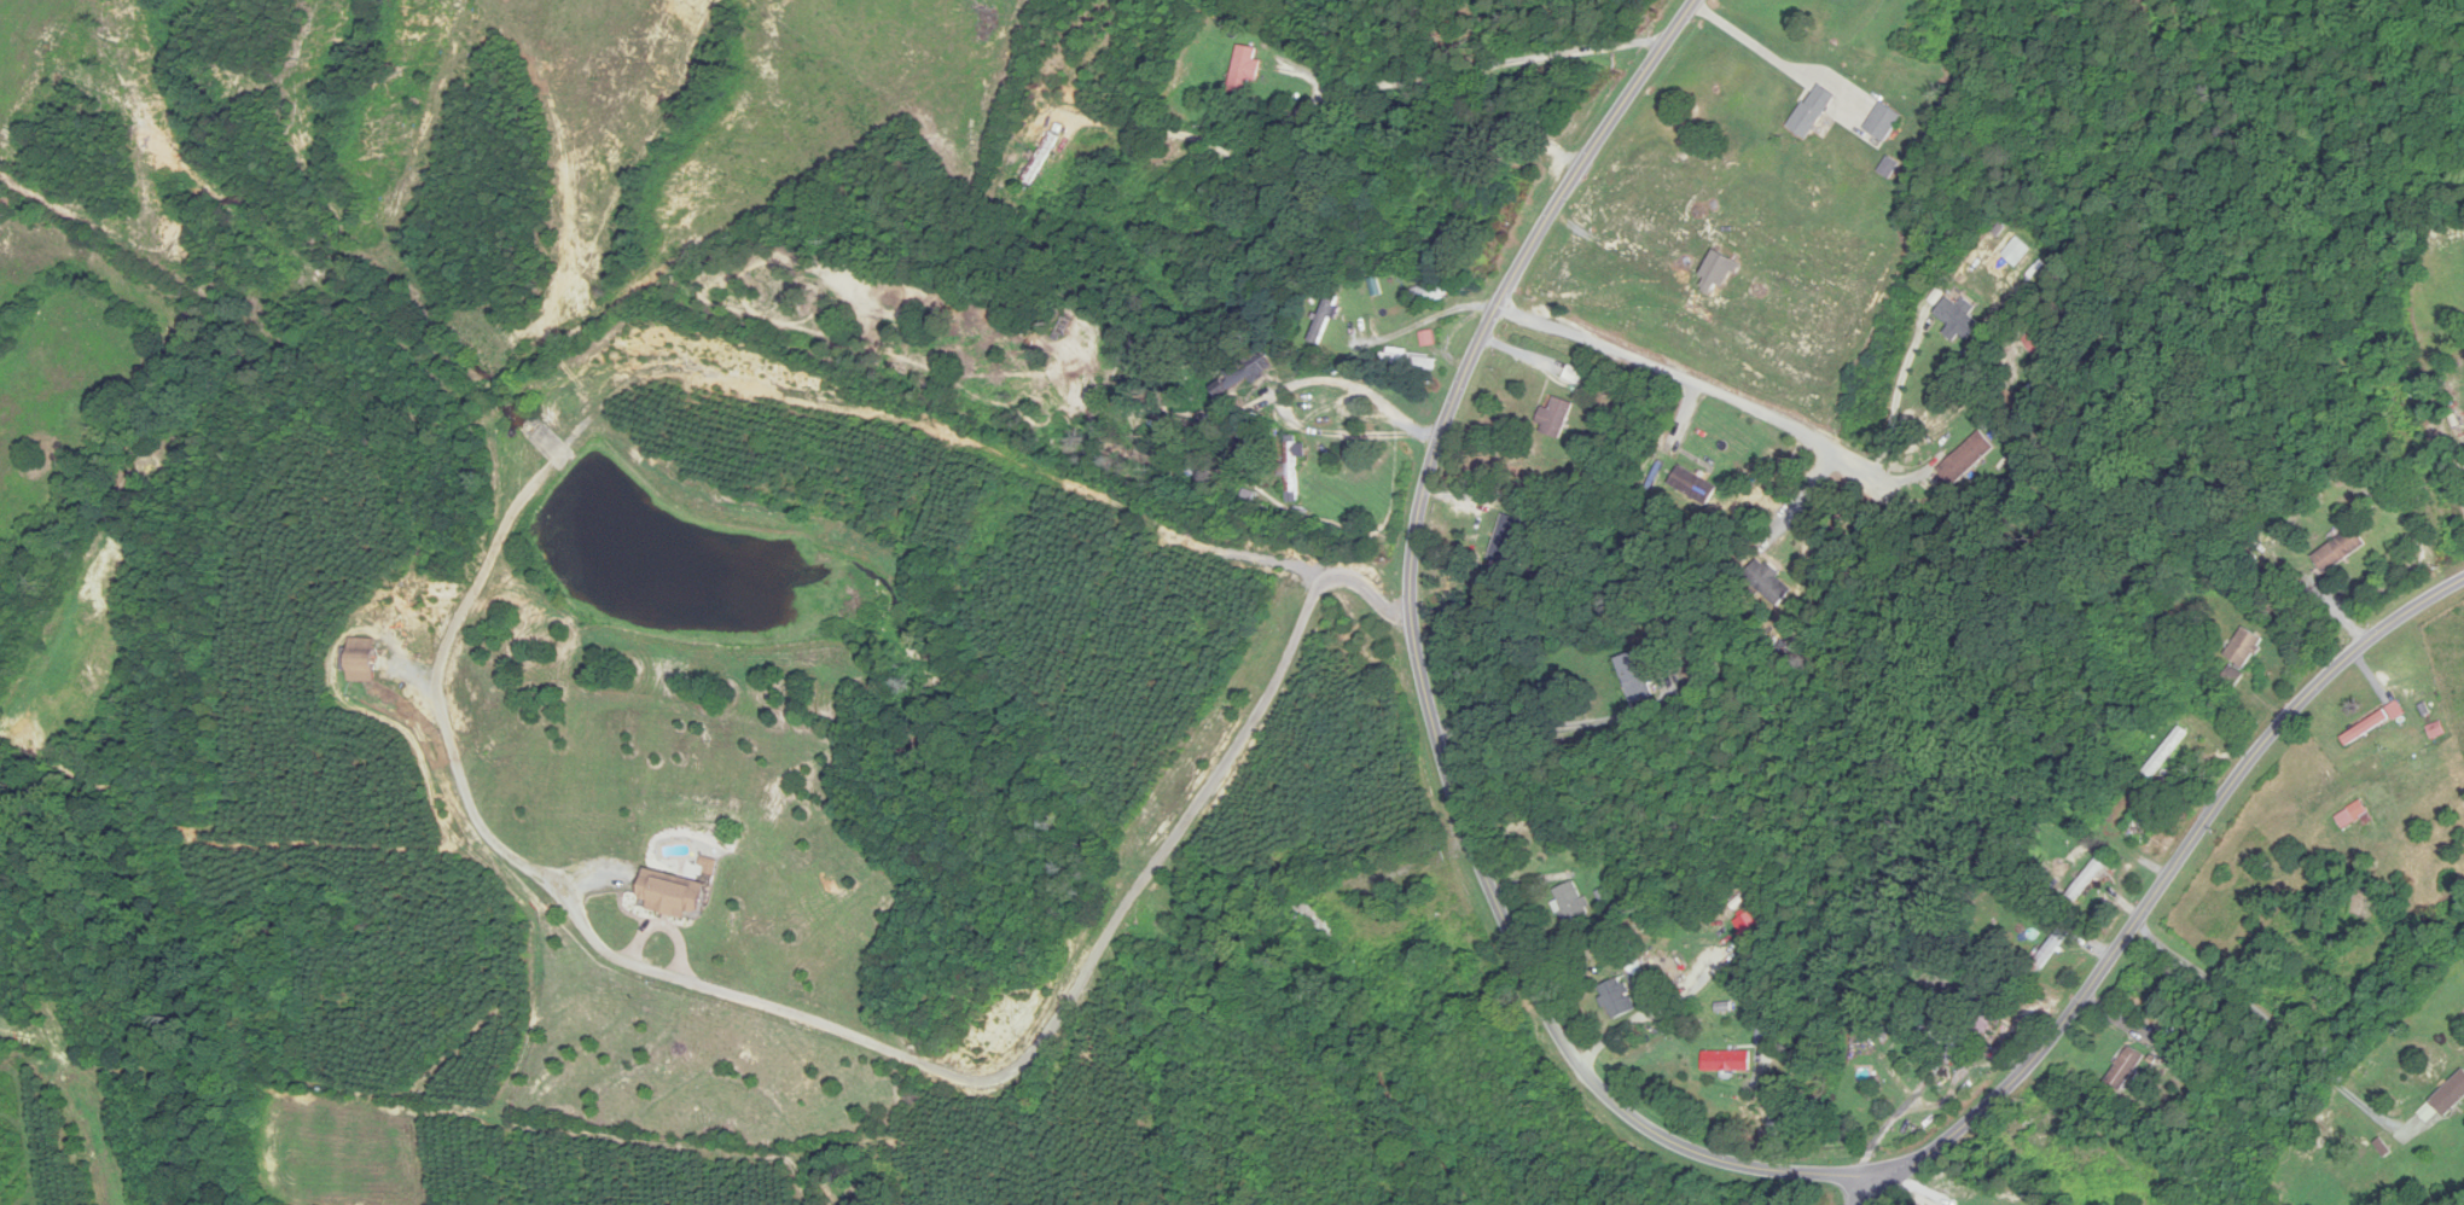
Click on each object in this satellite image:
building: (1837, 0)
road: (1777, 62)
road: (1472, 69)
building: (1244, 71)
building: (1813, 112)
building: (1884, 123)
building: (1042, 159)
building: (1888, 170)
building: (1447, 232)
building: (1429, 295)
building: (1957, 318)
building: (1410, 361)
road: (1288, 386)
road: (1703, 389)
road: (1896, 395)
building: (1554, 418)
building: (1295, 464)
building: (1691, 485)
building: (1505, 540)
building: (2341, 551)
building: (1769, 583)
building: (2245, 647)
building: (362, 660)
building: (1635, 677)
building: (2233, 679)
road: (1426, 698)
road: (1554, 729)
building: (2167, 752)
building: (2352, 815)
building: (2144, 821)
building: (2088, 880)
road: (2163, 889)
building: (673, 896)
building: (1571, 903)
building: (1319, 920)
building: (1754, 927)
building: (2050, 951)
road: (1096, 955)
building: (1617, 1000)
road: (1645, 1014)
building: (1987, 1015)
building: (1766, 1035)
building: (1727, 1063)
building: (2126, 1069)
building: (2453, 1098)
building: (2051, 1129)

